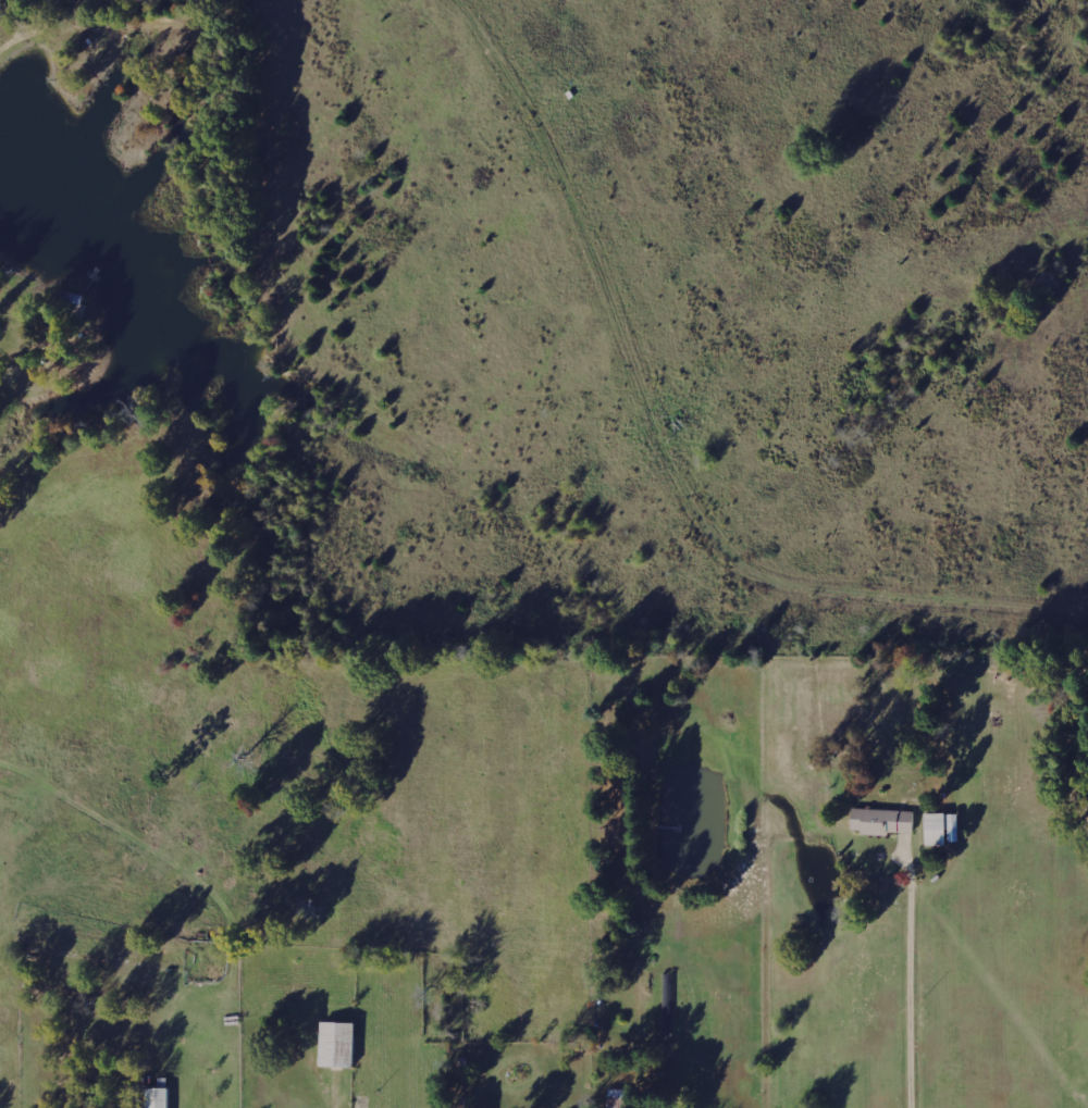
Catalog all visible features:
building: (881, 821)
building: (939, 829)
building: (336, 1043)
building: (157, 1097)

